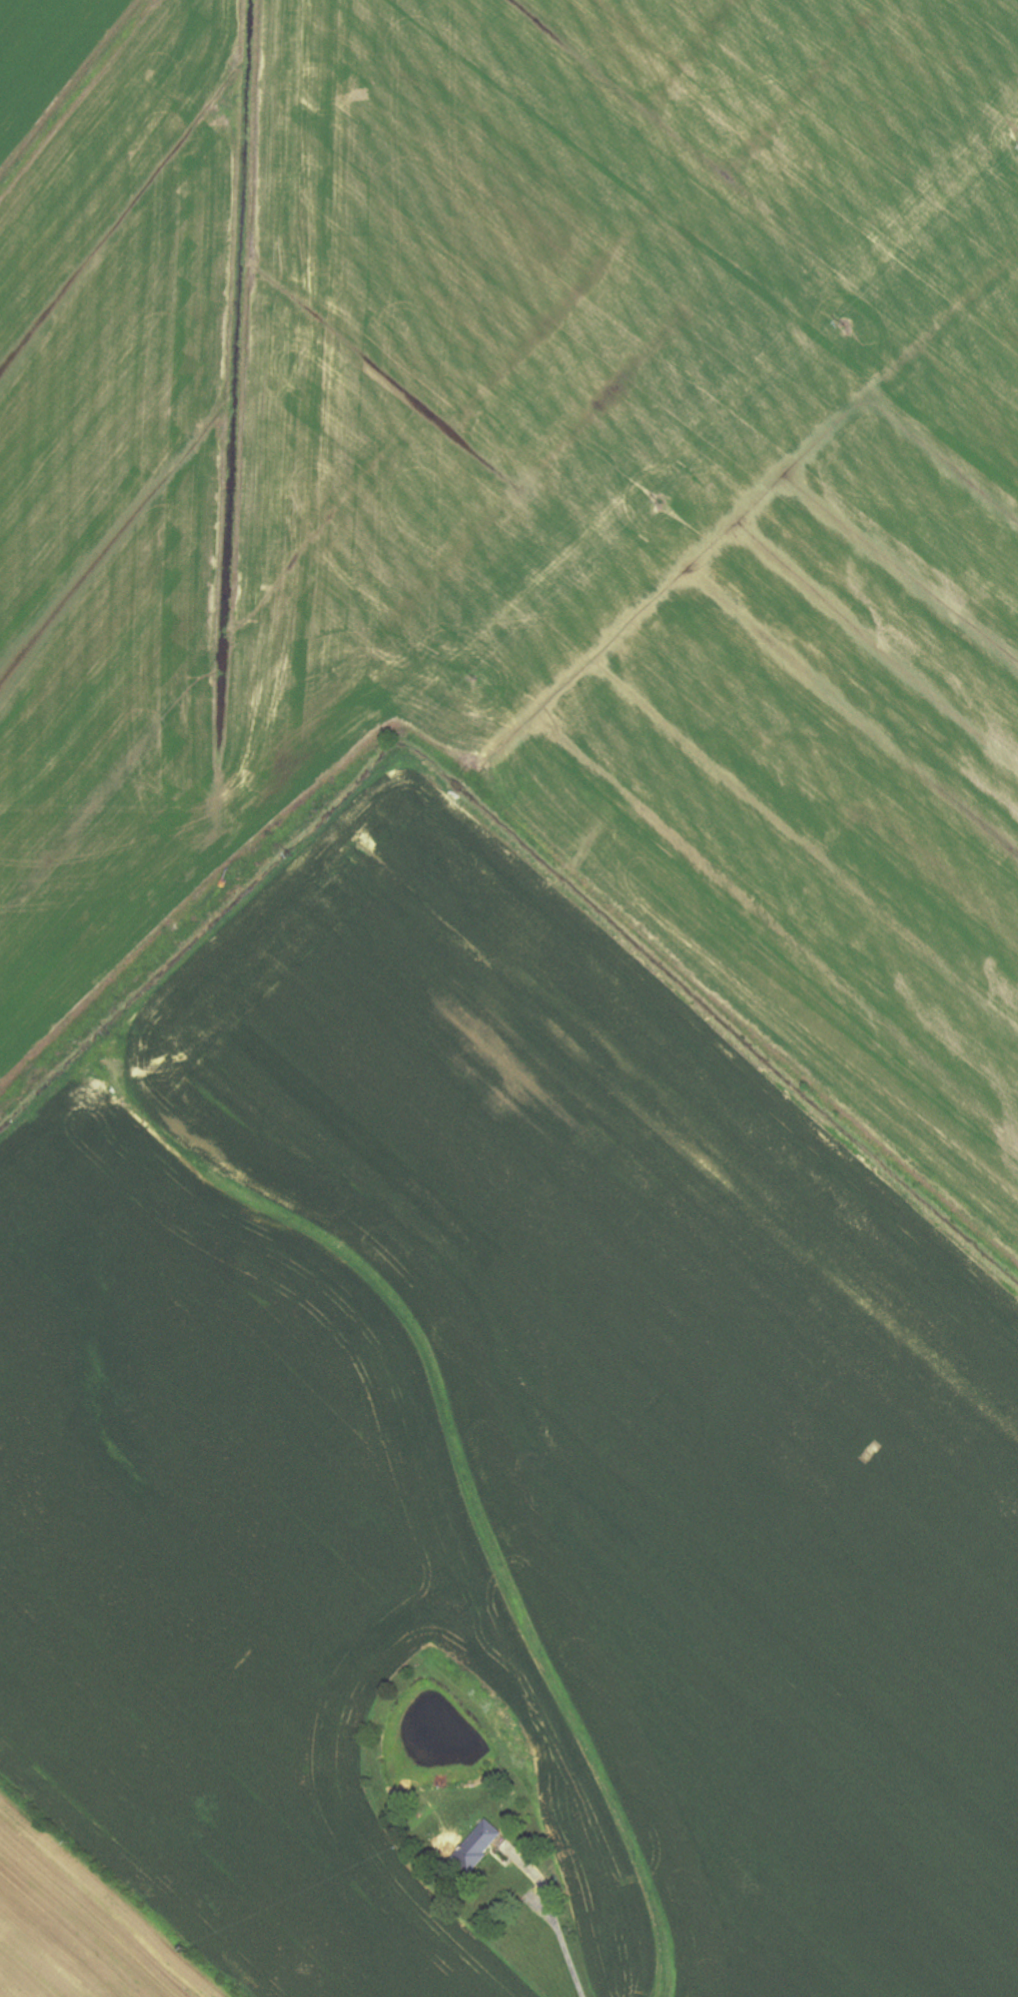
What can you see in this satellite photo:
building: (485, 1837)

